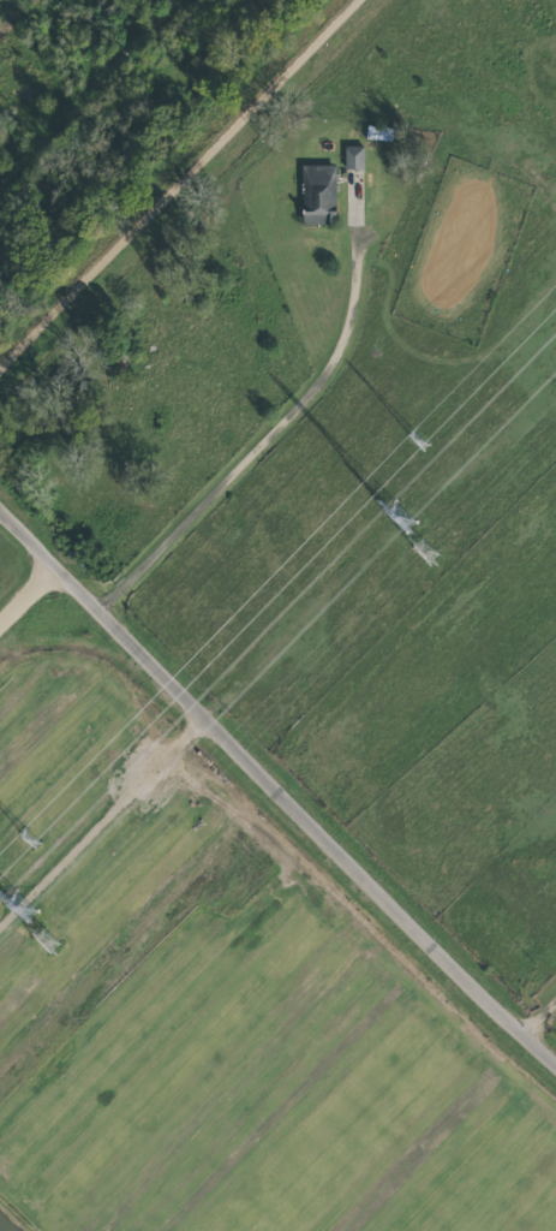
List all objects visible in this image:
building: (378, 133)
building: (353, 157)
road: (171, 177)
railway: (174, 177)
building: (318, 195)
road: (253, 441)
power tower: (415, 444)
power tower: (397, 519)
road: (28, 540)
power tower: (425, 552)
road: (28, 596)
road: (304, 822)
power tower: (31, 840)
power tower: (20, 906)
power tower: (44, 939)
road: (536, 1013)

